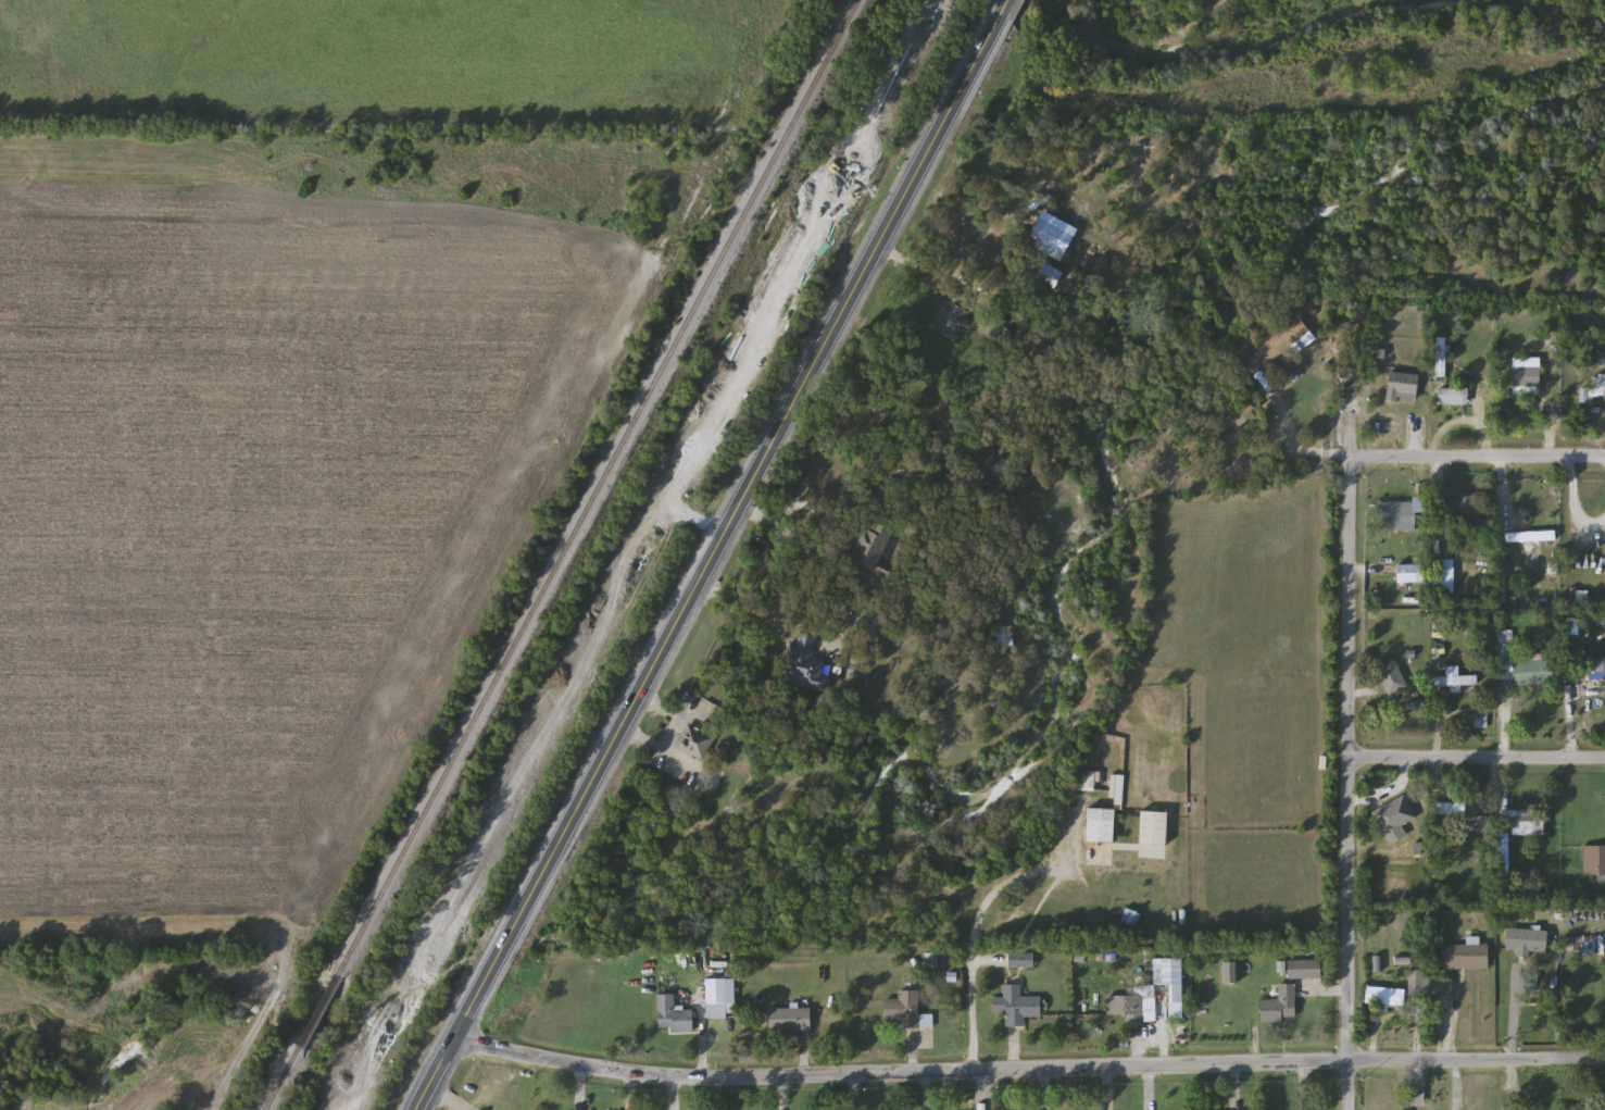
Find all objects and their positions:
road: (1003, 7)
road: (953, 103)
building: (951, 320)
building: (1284, 340)
building: (1441, 358)
building: (1594, 376)
building: (1526, 377)
building: (1403, 386)
building: (1454, 397)
building: (1226, 425)
road: (1296, 445)
road: (864, 449)
road: (1477, 454)
building: (1467, 507)
building: (1400, 516)
building: (874, 547)
railway: (564, 554)
railway: (632, 556)
building: (1410, 573)
building: (1444, 576)
road: (762, 611)
building: (870, 623)
building: (1006, 637)
road: (660, 651)
building: (805, 661)
building: (1519, 663)
building: (1589, 669)
building: (1391, 677)
building: (1455, 679)
road: (1502, 723)
road: (1569, 723)
building: (697, 741)
road: (1476, 756)
building: (1086, 781)
road: (1346, 782)
building: (1401, 813)
building: (1106, 814)
building: (1524, 819)
road: (1381, 849)
building: (1594, 862)
building: (1131, 918)
building: (1527, 940)
building: (1467, 957)
building: (1305, 969)
building: (1170, 976)
building: (1417, 984)
building: (1444, 988)
building: (1385, 997)
building: (716, 998)
building: (1016, 1006)
building: (1281, 1006)
building: (1132, 1008)
building: (905, 1009)
road: (970, 1013)
building: (674, 1017)
building: (791, 1019)
road: (700, 1040)
road: (1026, 1067)
road: (442, 1098)

